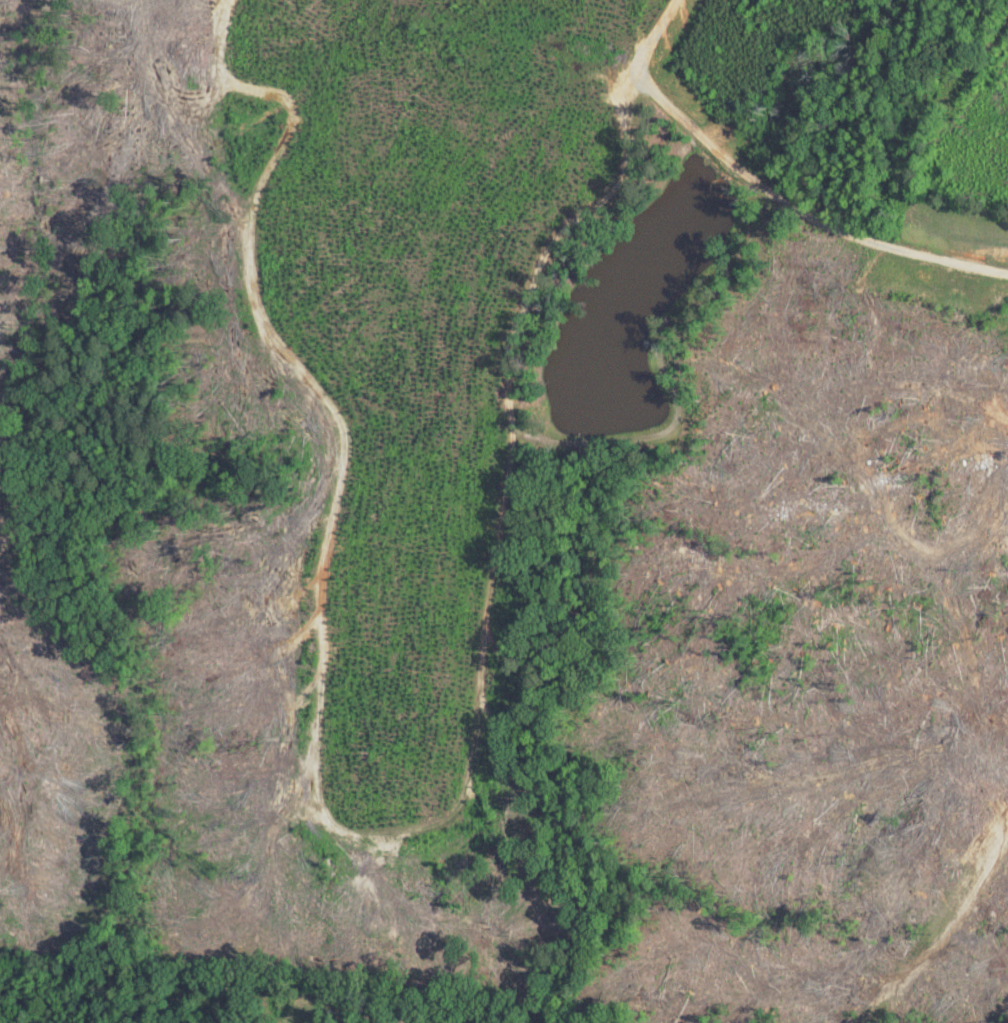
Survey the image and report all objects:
road: (824, 223)

